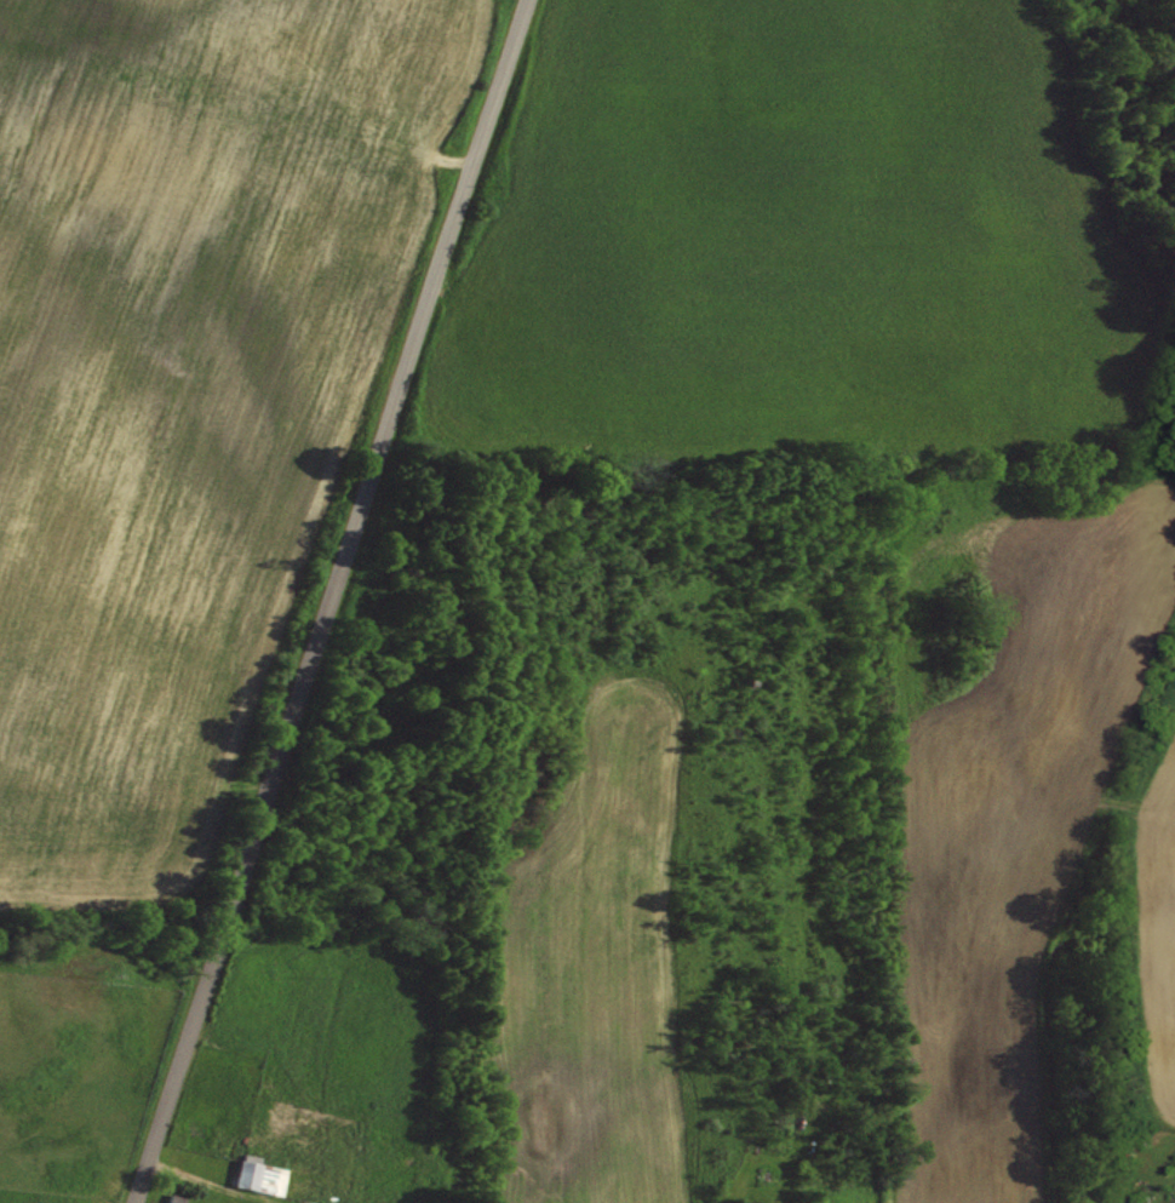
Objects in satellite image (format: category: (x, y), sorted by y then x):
road: (331, 601)
building: (260, 1173)
building: (172, 1202)
building: (1174, 1202)

